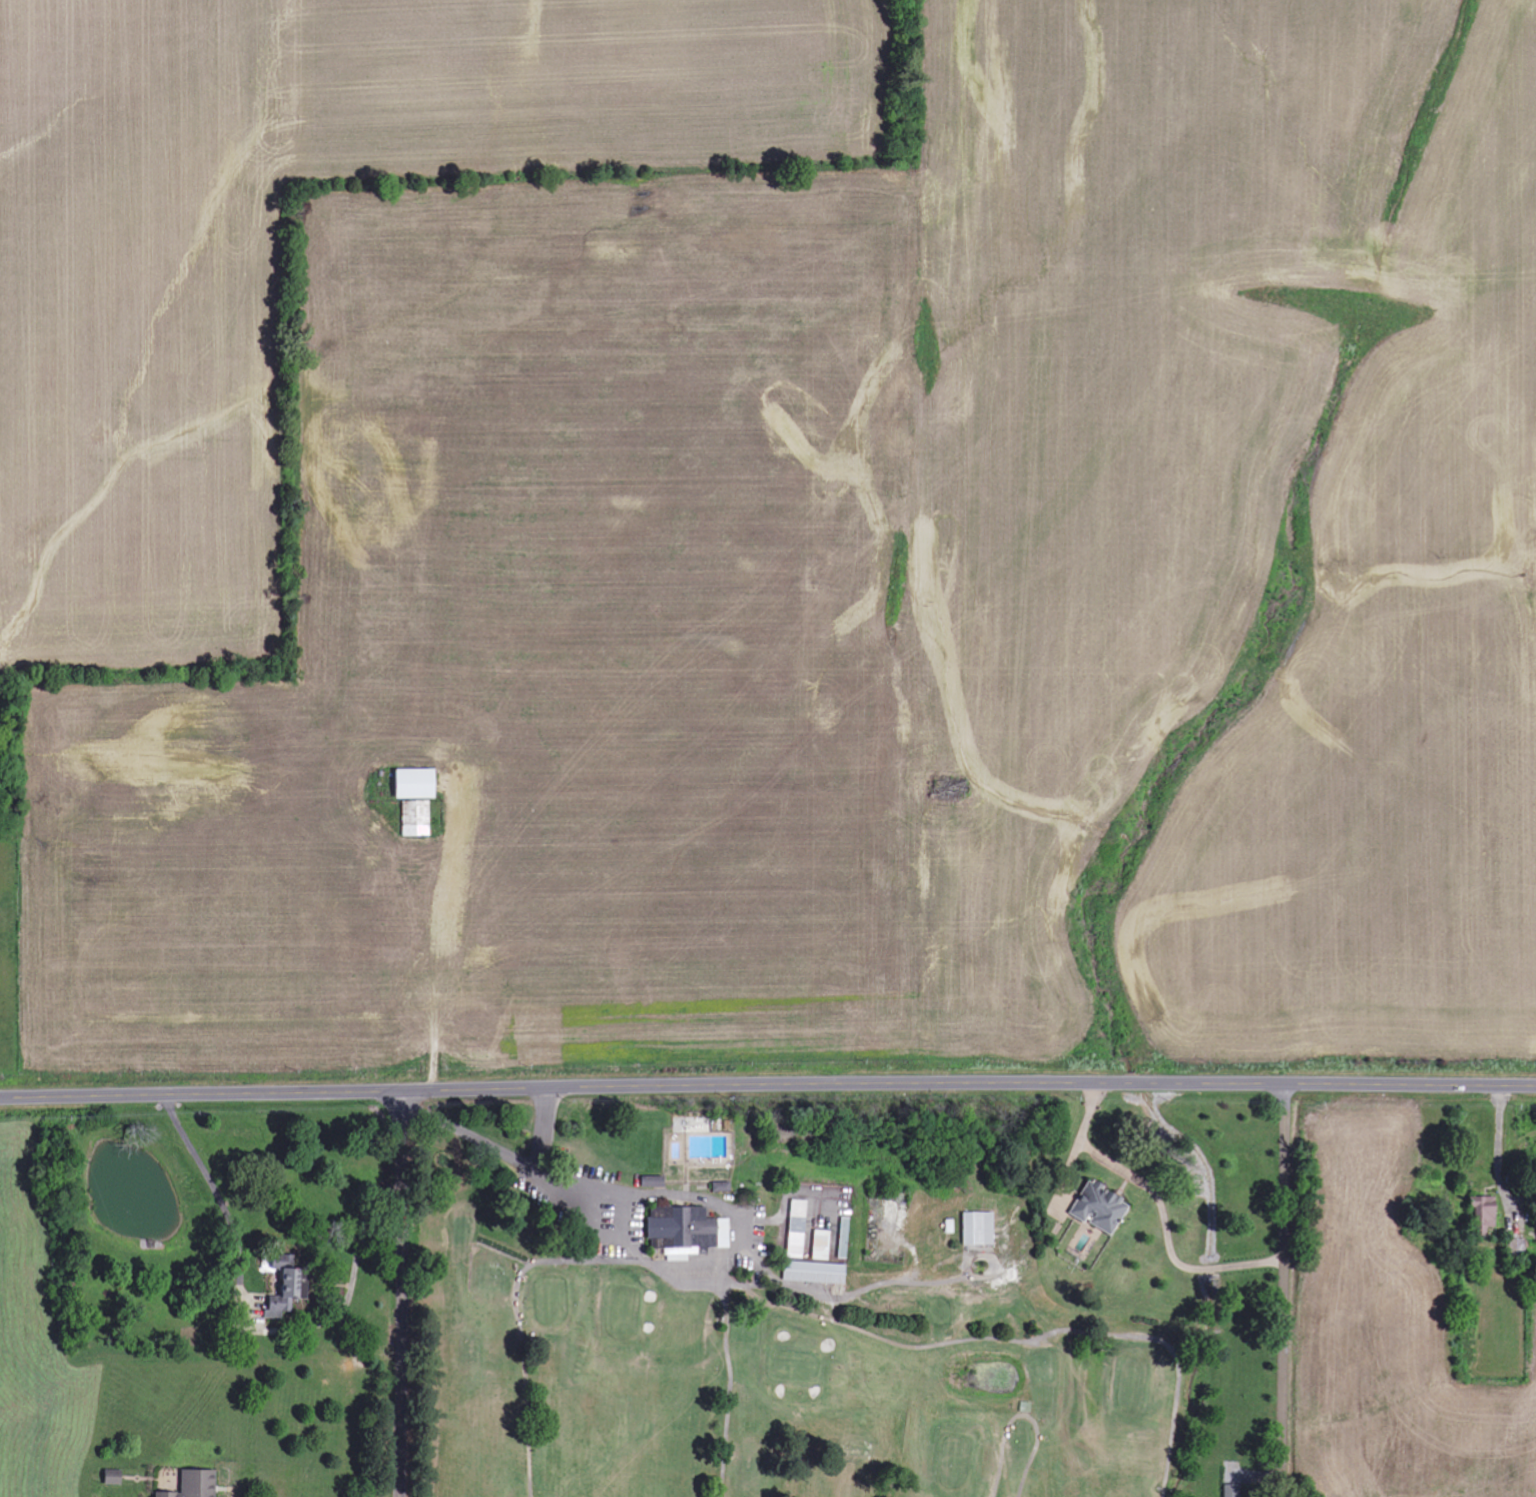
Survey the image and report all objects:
building: (417, 785)
building: (417, 820)
road: (767, 1082)
building: (655, 1183)
building: (1107, 1203)
building: (1488, 1213)
building: (957, 1220)
building: (694, 1222)
building: (986, 1222)
building: (805, 1223)
building: (855, 1232)
building: (830, 1239)
road: (619, 1252)
building: (816, 1274)
building: (294, 1283)
road: (1280, 1290)
road: (409, 1294)
park: (852, 1301)
road: (1022, 1333)
road: (1030, 1412)
building: (116, 1478)
building: (199, 1485)
building: (1235, 1491)

